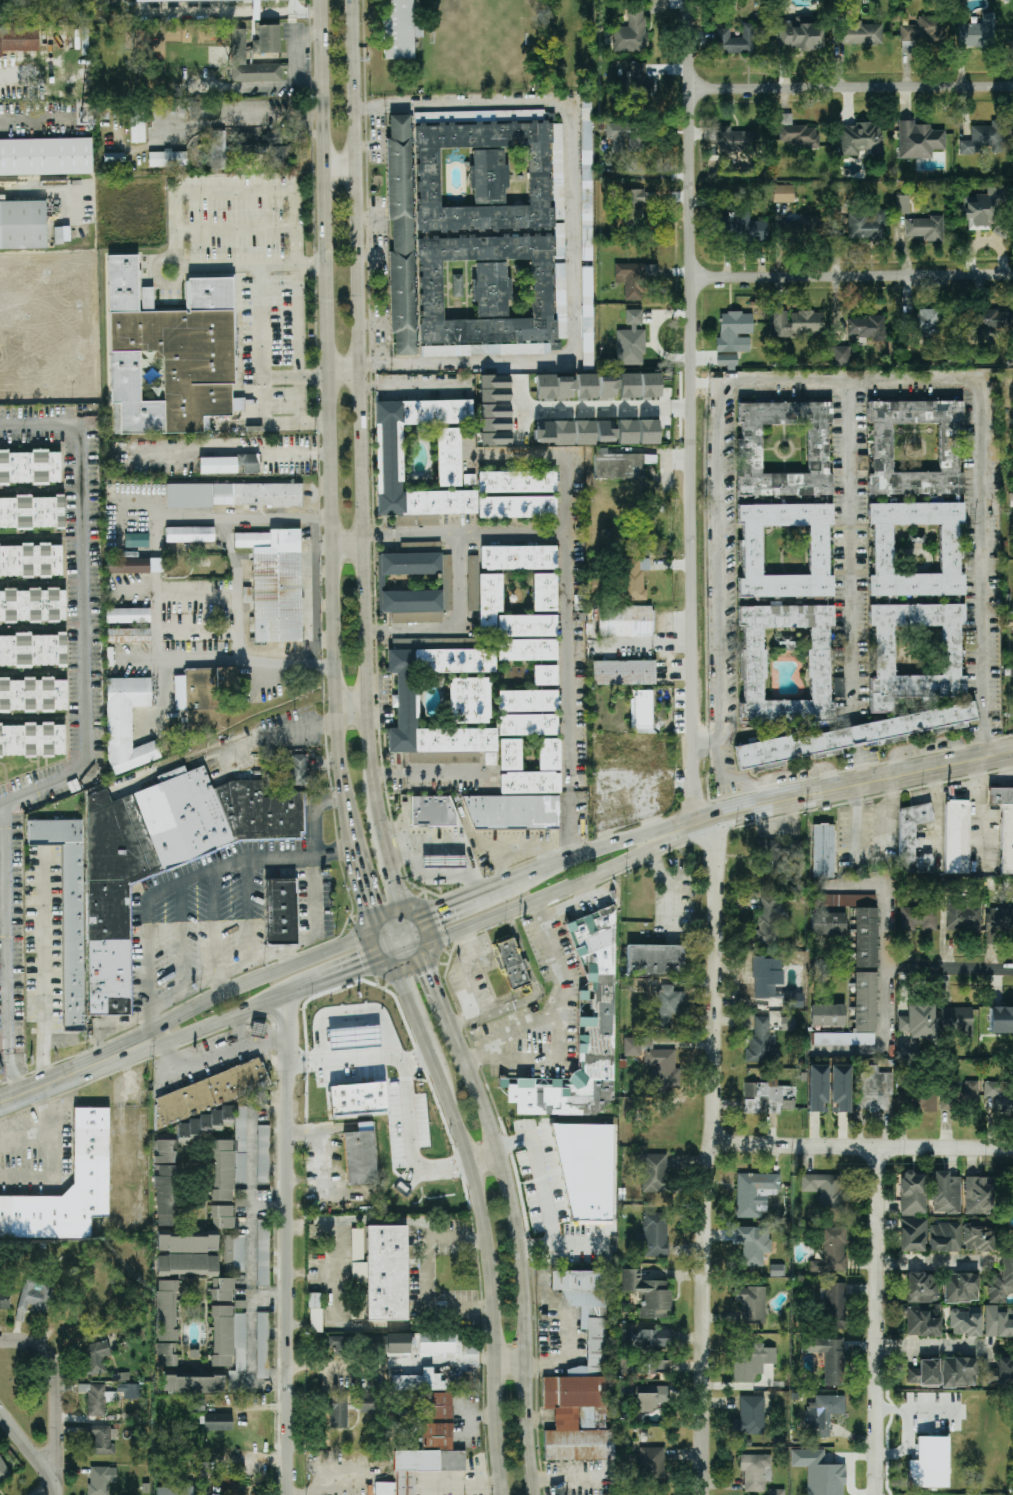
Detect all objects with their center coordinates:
building: (175, 0)
building: (400, 29)
building: (631, 31)
building: (923, 32)
building: (857, 33)
building: (977, 33)
building: (800, 34)
building: (18, 40)
building: (735, 40)
building: (238, 58)
building: (638, 80)
road: (851, 86)
building: (137, 123)
road: (209, 123)
road: (31, 124)
building: (797, 133)
building: (733, 139)
building: (859, 139)
building: (918, 140)
building: (984, 140)
building: (247, 144)
road: (367, 146)
building: (217, 150)
building: (278, 153)
building: (46, 156)
building: (114, 157)
building: (167, 159)
road: (337, 168)
building: (488, 176)
building: (540, 177)
building: (586, 180)
road: (242, 193)
building: (783, 193)
building: (636, 204)
building: (902, 204)
building: (981, 210)
road: (368, 219)
building: (22, 224)
building: (867, 225)
road: (235, 226)
building: (739, 227)
building: (806, 227)
building: (924, 228)
road: (577, 229)
building: (62, 234)
building: (401, 235)
road: (172, 254)
road: (369, 256)
road: (308, 263)
building: (30, 266)
road: (220, 266)
road: (852, 276)
building: (631, 280)
road: (161, 283)
building: (456, 285)
building: (490, 289)
building: (543, 289)
building: (147, 298)
building: (587, 316)
building: (992, 321)
building: (798, 323)
building: (926, 323)
road: (371, 324)
building: (865, 327)
building: (735, 332)
road: (261, 336)
building: (631, 340)
road: (298, 341)
building: (171, 354)
building: (841, 355)
building: (10, 360)
building: (727, 361)
road: (340, 372)
road: (357, 379)
building: (630, 386)
road: (409, 388)
road: (593, 409)
road: (692, 410)
building: (495, 417)
road: (272, 420)
road: (984, 422)
road: (522, 425)
road: (325, 426)
building: (543, 431)
building: (605, 431)
building: (648, 431)
building: (627, 432)
road: (268, 451)
road: (850, 451)
road: (546, 453)
building: (389, 457)
building: (448, 457)
building: (229, 464)
building: (620, 465)
building: (30, 467)
building: (516, 482)
building: (233, 495)
road: (573, 495)
building: (1011, 500)
building: (517, 507)
building: (31, 512)
building: (418, 520)
building: (189, 534)
road: (315, 535)
building: (136, 540)
road: (321, 545)
road: (343, 545)
building: (915, 549)
road: (564, 556)
building: (518, 557)
building: (30, 560)
building: (785, 560)
building: (134, 565)
building: (473, 576)
building: (633, 578)
road: (731, 581)
building: (447, 582)
building: (275, 584)
building: (545, 592)
road: (197, 593)
building: (490, 594)
building: (32, 605)
building: (127, 615)
building: (625, 621)
road: (456, 629)
building: (128, 635)
road: (156, 636)
building: (423, 644)
building: (33, 650)
building: (527, 650)
road: (852, 654)
road: (235, 661)
road: (287, 663)
building: (624, 673)
building: (545, 675)
building: (33, 695)
building: (202, 695)
building: (469, 700)
building: (407, 701)
building: (527, 701)
road: (349, 708)
building: (126, 723)
building: (527, 725)
road: (273, 732)
building: (844, 738)
building: (32, 739)
road: (925, 744)
road: (87, 746)
building: (549, 754)
building: (510, 755)
building: (297, 770)
road: (427, 772)
road: (796, 772)
road: (372, 777)
road: (729, 778)
road: (994, 780)
building: (530, 783)
road: (859, 786)
road: (3, 804)
building: (431, 812)
building: (511, 812)
road: (316, 816)
road: (379, 823)
road: (978, 824)
road: (684, 825)
building: (1005, 826)
road: (687, 831)
building: (956, 837)
building: (913, 839)
road: (2, 846)
road: (659, 846)
building: (823, 851)
building: (772, 856)
building: (163, 857)
road: (570, 858)
road: (281, 859)
building: (443, 861)
road: (391, 872)
road: (198, 877)
road: (857, 886)
road: (673, 889)
road: (363, 890)
road: (314, 894)
road: (534, 902)
road: (442, 905)
traffic signals: (369, 906)
road: (400, 906)
road: (564, 907)
traffic signals: (437, 908)
building: (68, 911)
building: (280, 913)
building: (963, 916)
building: (919, 917)
building: (769, 921)
building: (828, 921)
building: (999, 922)
road: (216, 924)
road: (391, 924)
road: (249, 929)
road: (410, 933)
road: (886, 935)
road: (150, 936)
road: (184, 938)
road: (382, 944)
road: (401, 953)
building: (655, 959)
building: (512, 964)
traffic signals: (363, 968)
road: (958, 968)
road: (42, 972)
road: (349, 973)
traffic signals: (427, 976)
building: (766, 980)
road: (249, 983)
road: (431, 988)
road: (192, 989)
road: (375, 995)
building: (793, 1001)
building: (866, 1002)
building: (668, 1006)
building: (602, 1009)
road: (549, 1012)
building: (827, 1015)
road: (151, 1019)
building: (1001, 1020)
road: (220, 1021)
building: (918, 1021)
building: (956, 1021)
road: (321, 1023)
building: (788, 1023)
road: (239, 1031)
building: (364, 1038)
building: (844, 1039)
road: (884, 1039)
building: (761, 1043)
road: (403, 1045)
building: (632, 1047)
building: (907, 1049)
road: (395, 1052)
road: (218, 1053)
road: (416, 1058)
road: (324, 1061)
road: (544, 1062)
road: (375, 1064)
building: (661, 1065)
building: (0, 1072)
road: (64, 1076)
road: (129, 1084)
building: (841, 1087)
building: (818, 1088)
building: (874, 1089)
building: (212, 1091)
building: (961, 1095)
building: (1000, 1095)
building: (767, 1098)
building: (387, 1100)
building: (919, 1102)
building: (423, 1139)
building: (222, 1148)
road: (862, 1148)
building: (166, 1151)
building: (91, 1152)
building: (263, 1154)
building: (360, 1155)
road: (711, 1156)
road: (53, 1157)
road: (485, 1158)
building: (586, 1172)
building: (654, 1173)
building: (413, 1178)
building: (824, 1188)
road: (544, 1191)
building: (754, 1192)
building: (913, 1193)
building: (945, 1193)
building: (167, 1195)
building: (978, 1196)
building: (222, 1217)
road: (482, 1218)
building: (655, 1234)
building: (913, 1235)
building: (945, 1237)
building: (977, 1237)
road: (577, 1243)
building: (357, 1244)
building: (752, 1245)
road: (290, 1246)
building: (234, 1251)
building: (831, 1251)
building: (263, 1253)
building: (187, 1255)
road: (519, 1256)
road: (936, 1262)
building: (385, 1272)
road: (428, 1276)
building: (1001, 1281)
building: (922, 1288)
building: (961, 1288)
building: (222, 1289)
building: (647, 1293)
building: (35, 1297)
road: (270, 1299)
building: (4, 1301)
building: (751, 1304)
building: (835, 1306)
building: (315, 1312)
road: (564, 1322)
road: (881, 1322)
building: (923, 1322)
building: (998, 1322)
building: (166, 1323)
building: (965, 1324)
building: (222, 1336)
building: (655, 1338)
building: (420, 1344)
building: (263, 1345)
road: (937, 1348)
building: (94, 1357)
building: (828, 1357)
building: (751, 1362)
road: (508, 1363)
building: (645, 1366)
road: (317, 1367)
building: (959, 1372)
building: (925, 1373)
building: (1000, 1374)
building: (581, 1378)
building: (418, 1382)
building: (193, 1384)
building: (129, 1390)
road: (57, 1393)
building: (647, 1397)
building: (367, 1403)
building: (437, 1406)
building: (338, 1411)
building: (825, 1413)
building: (750, 1416)
building: (218, 1422)
building: (102, 1440)
road: (30, 1452)
building: (428, 1457)
building: (928, 1463)
building: (651, 1465)
building: (756, 1471)
building: (3, 1472)
building: (820, 1472)
building: (101, 1480)
building: (228, 1484)
building: (384, 1488)
road: (51, 1491)
building: (175, 1491)
building: (559, 1492)
building: (777, 1492)

